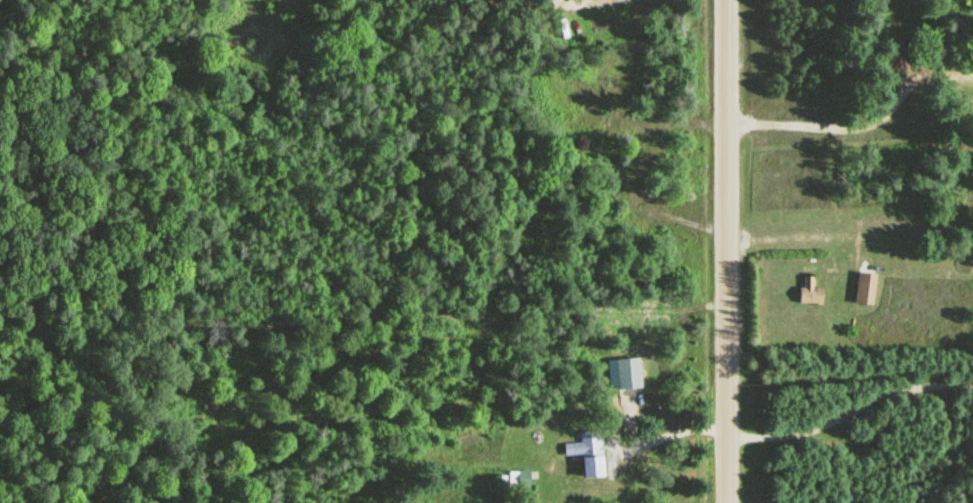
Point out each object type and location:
road: (586, 3)
road: (689, 121)
road: (862, 126)
road: (683, 220)
road: (813, 235)
road: (732, 251)
building: (863, 290)
building: (808, 291)
building: (625, 374)
road: (852, 410)
road: (672, 435)
road: (614, 439)
building: (591, 454)
building: (514, 480)

